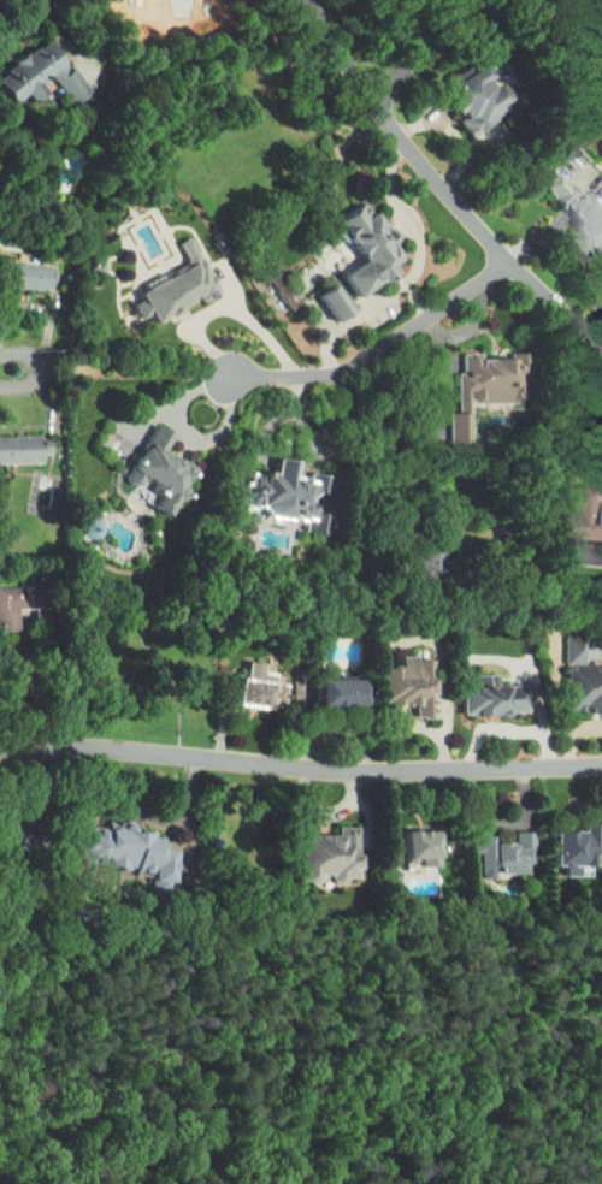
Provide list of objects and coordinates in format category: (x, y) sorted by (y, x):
road: (22, 28)
road: (65, 40)
road: (423, 54)
building: (29, 67)
building: (458, 93)
road: (441, 182)
building: (571, 206)
road: (557, 231)
building: (349, 238)
building: (17, 267)
road: (415, 274)
building: (159, 277)
building: (265, 279)
building: (318, 292)
road: (595, 320)
road: (259, 324)
road: (200, 332)
road: (376, 354)
road: (46, 371)
building: (468, 379)
building: (16, 440)
road: (592, 449)
building: (142, 461)
building: (271, 486)
road: (567, 492)
building: (580, 508)
road: (407, 543)
building: (414, 555)
building: (7, 591)
road: (536, 661)
building: (393, 676)
building: (241, 679)
building: (576, 679)
building: (321, 683)
road: (43, 688)
building: (477, 688)
road: (300, 763)
building: (4, 824)
building: (559, 836)
building: (403, 839)
building: (111, 846)
building: (313, 847)
building: (488, 847)

